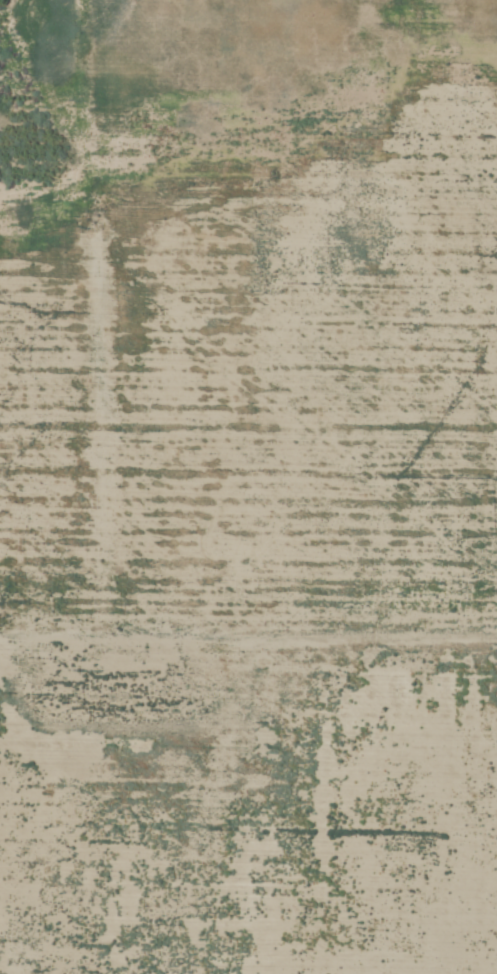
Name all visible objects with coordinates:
crop: (248, 788)

